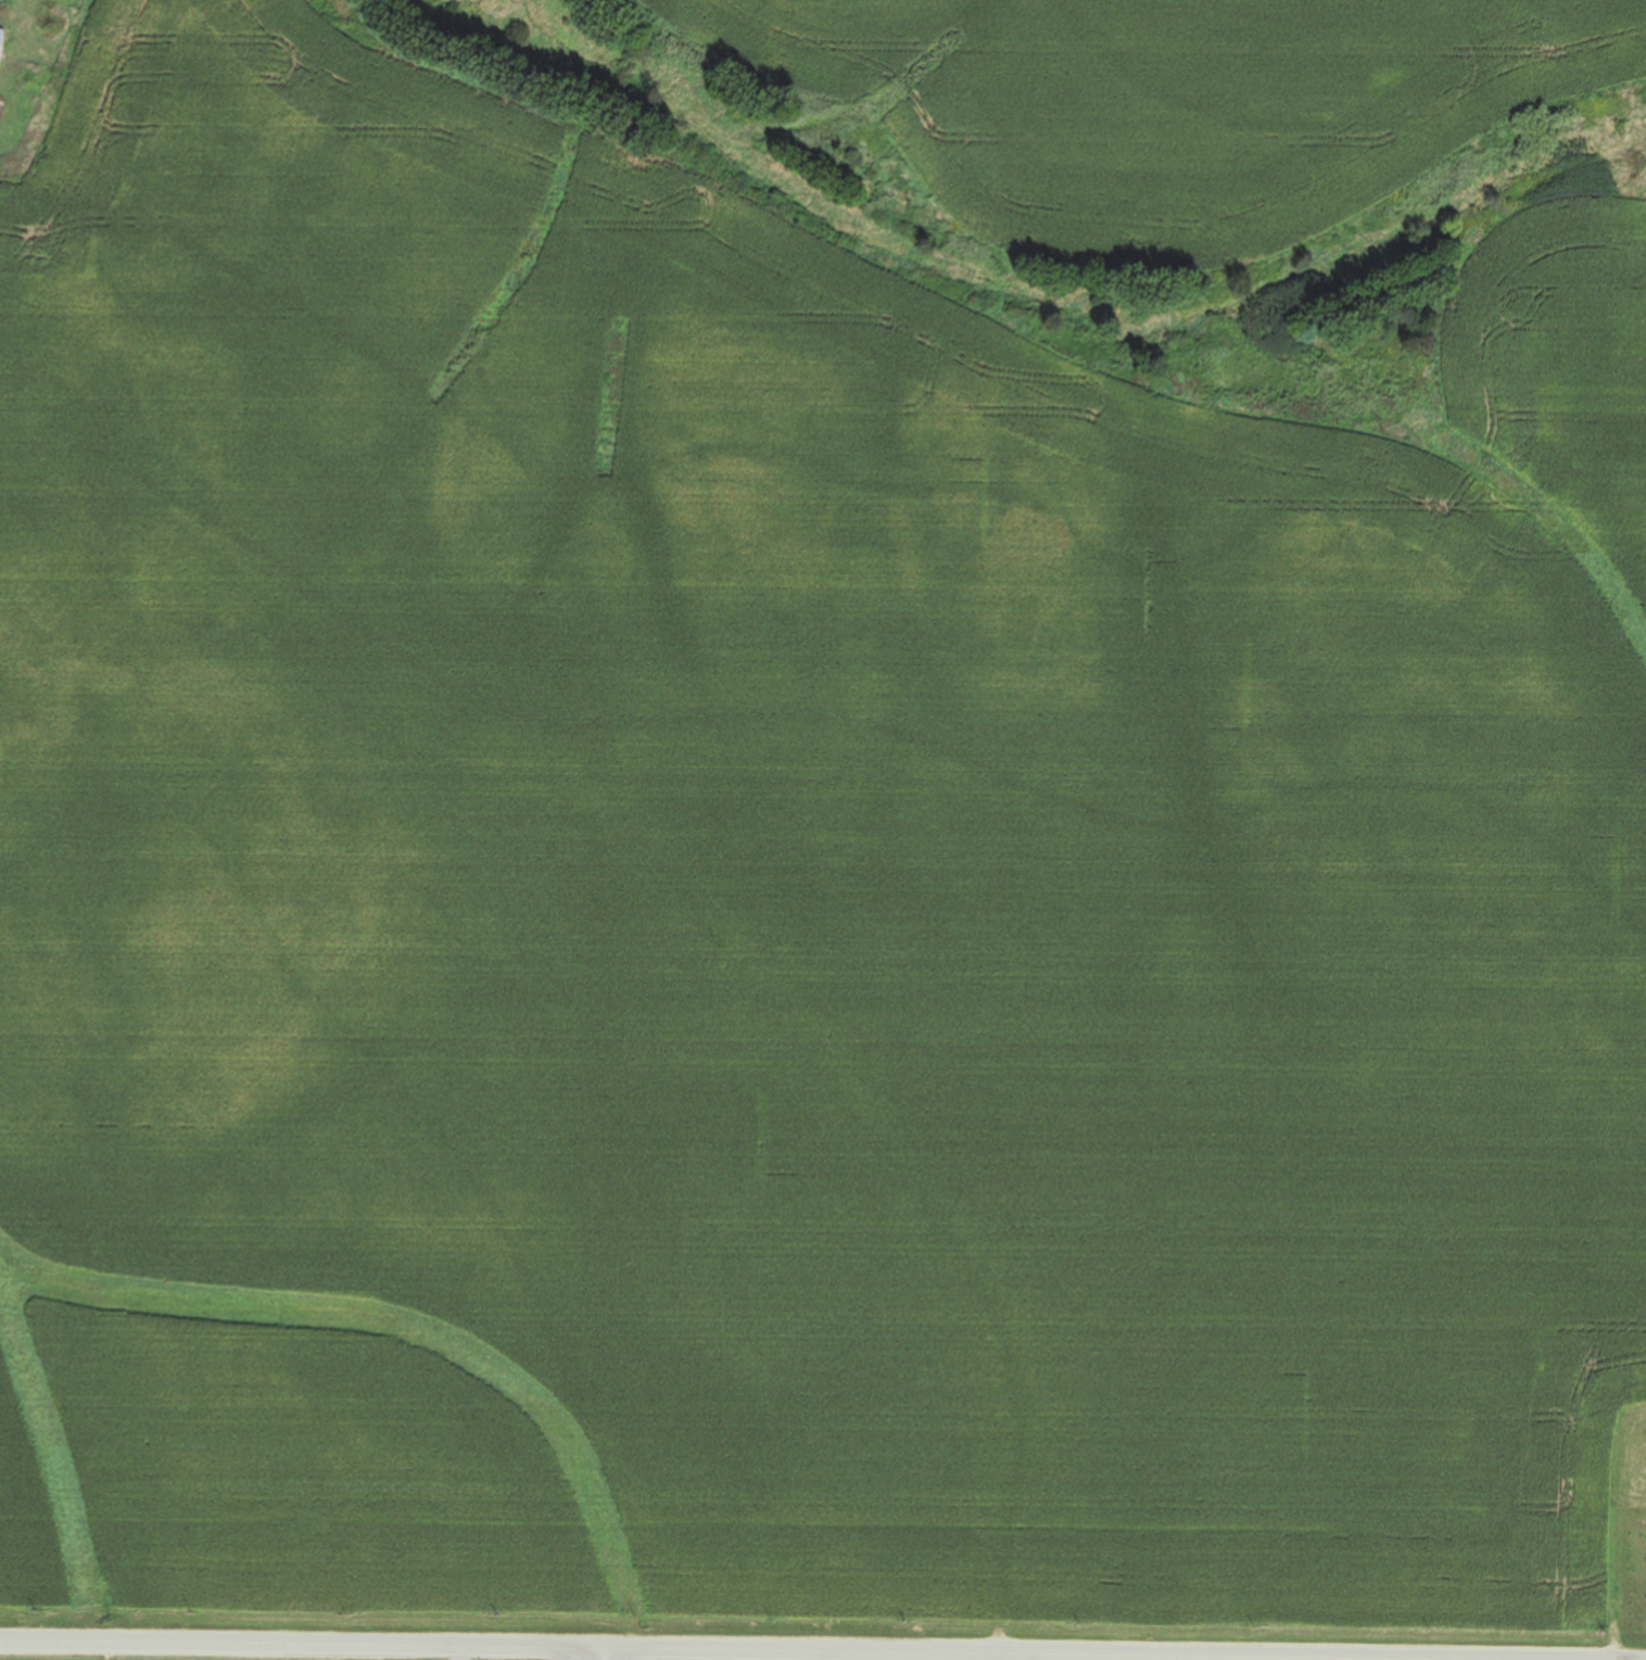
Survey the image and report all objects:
road: (302, 1649)
road: (604, 1658)
road: (891, 1658)

